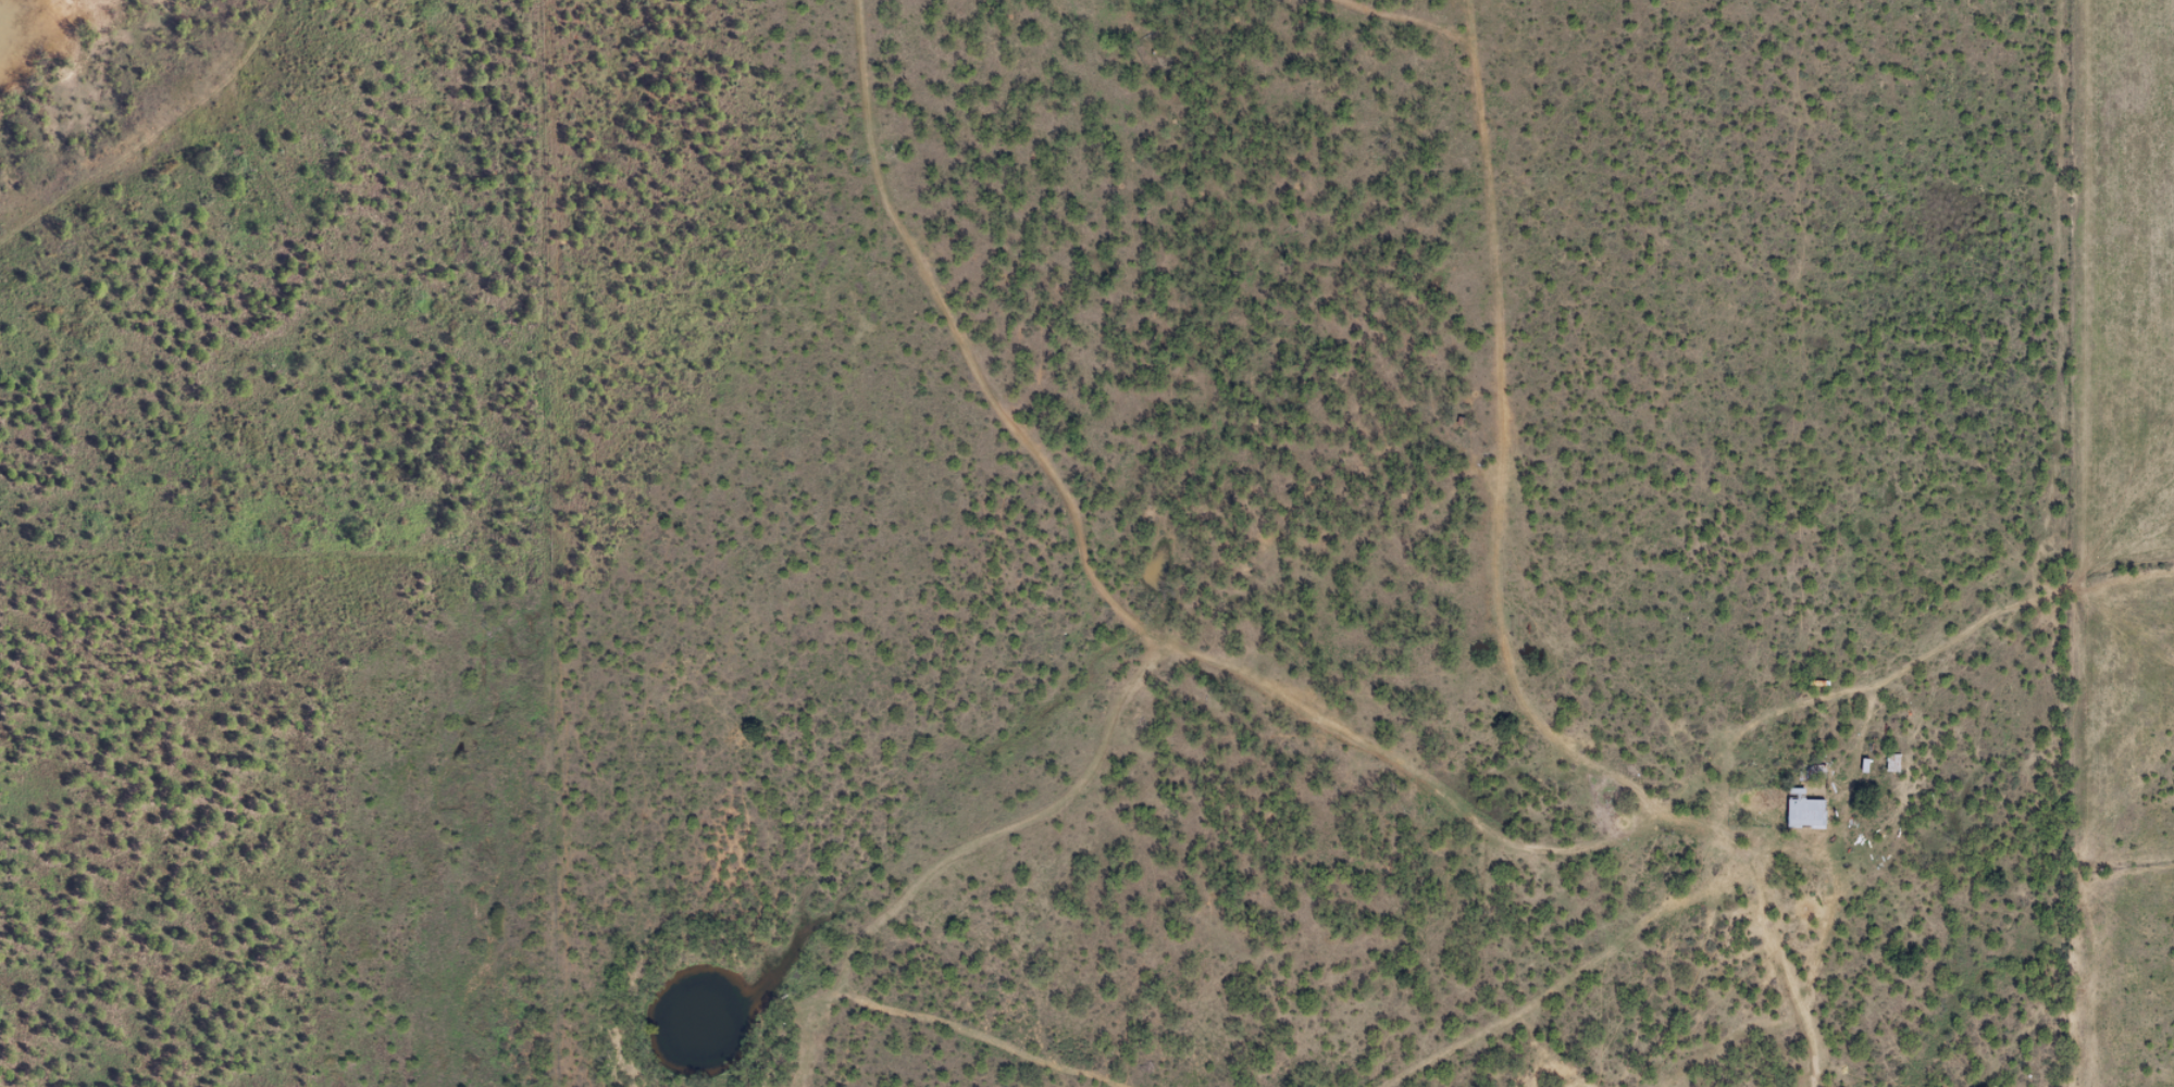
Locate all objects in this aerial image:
road: (160, 166)
road: (1246, 686)
building: (1801, 820)

